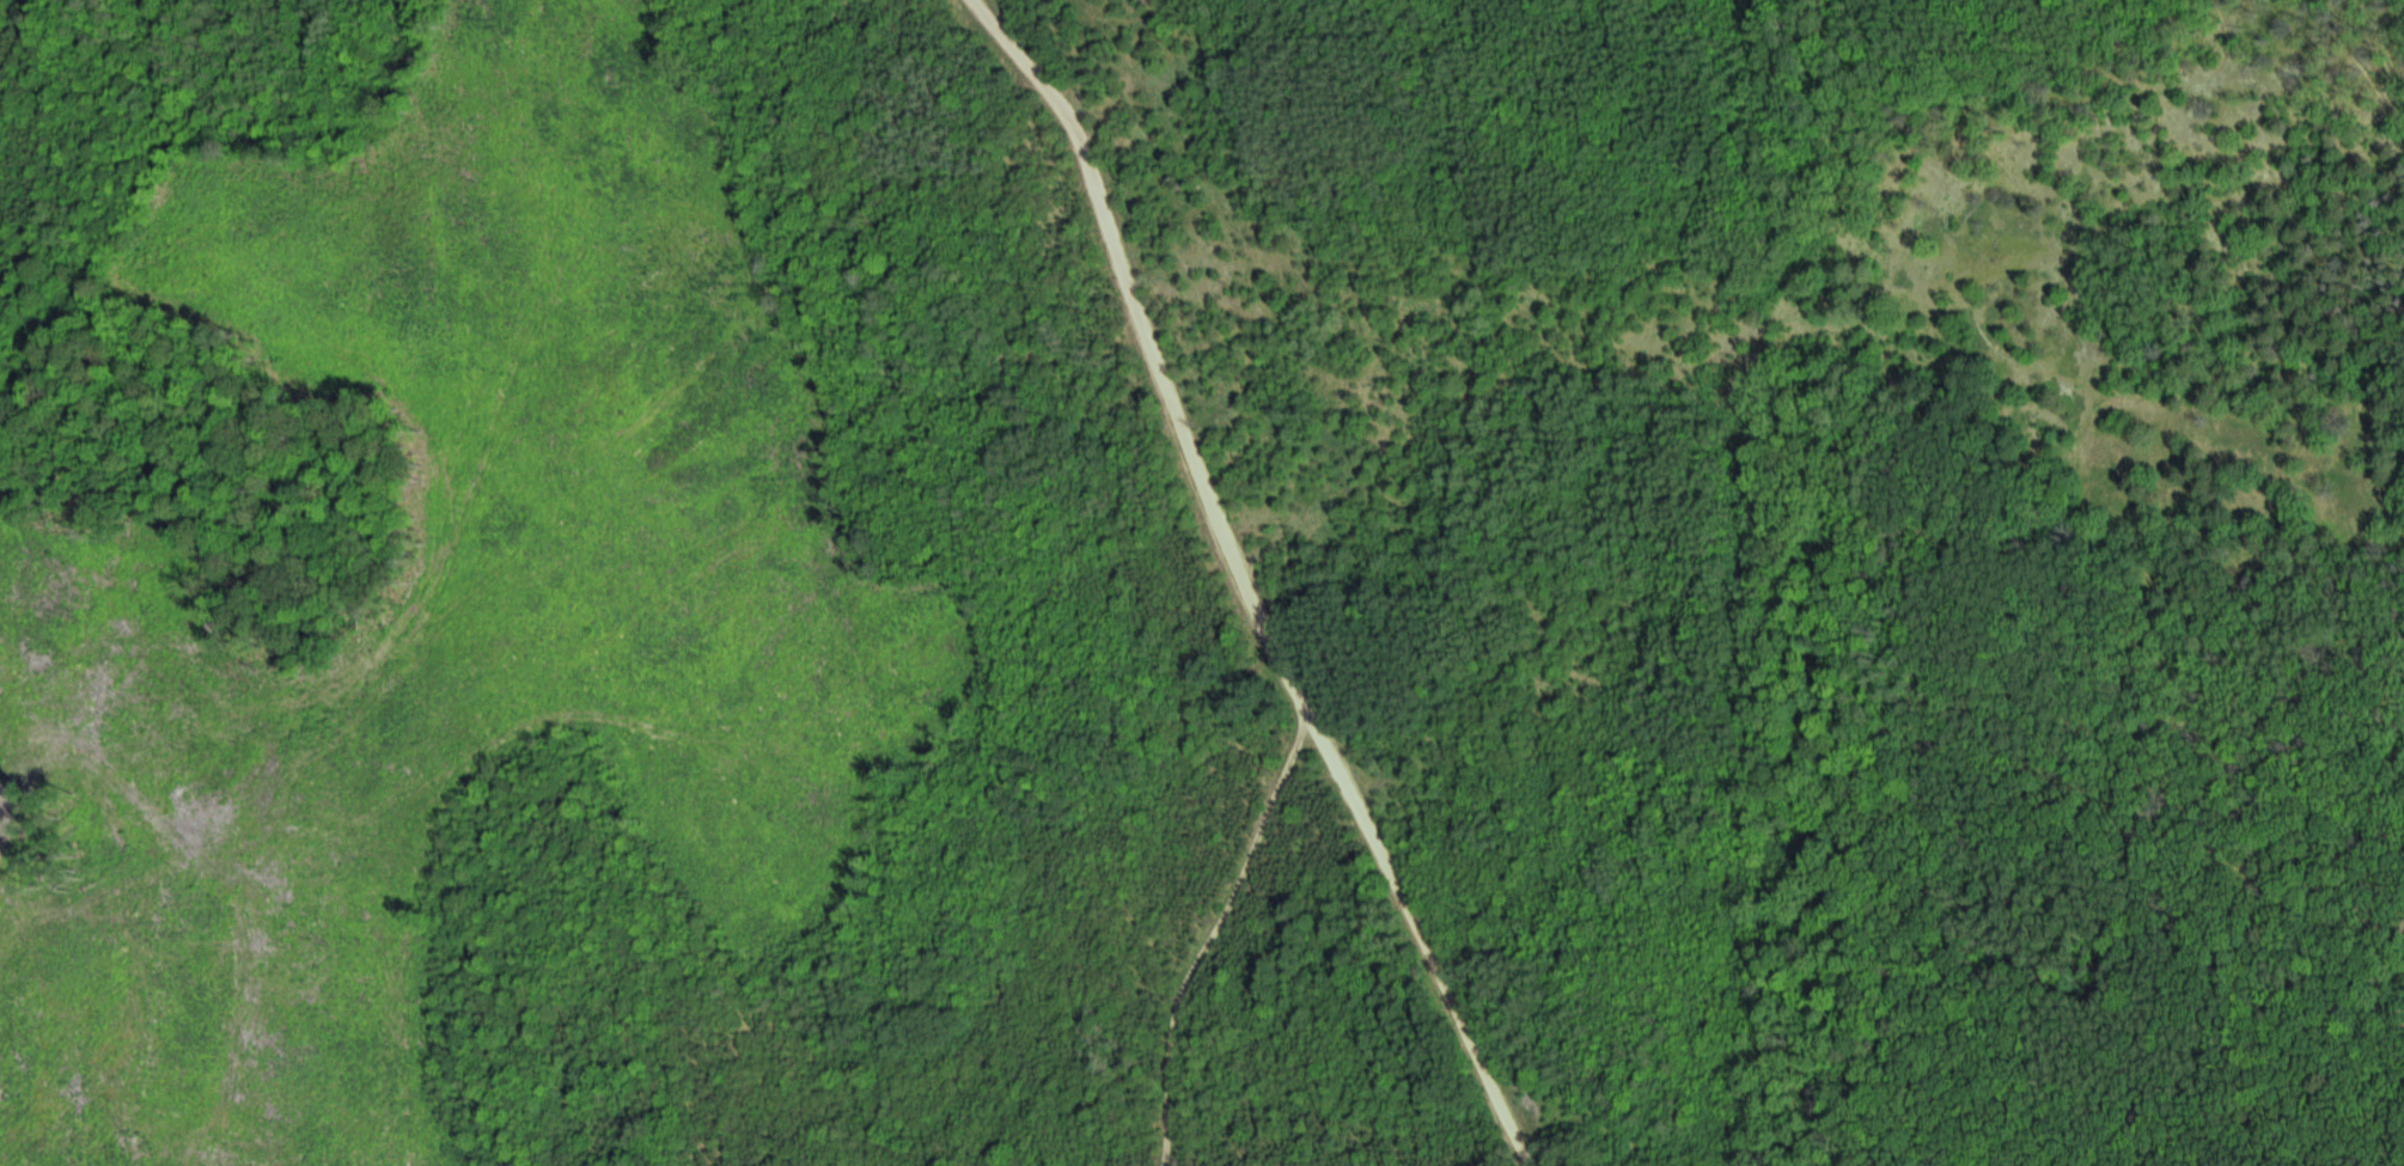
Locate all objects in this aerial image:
road: (1239, 576)
road: (1218, 929)

